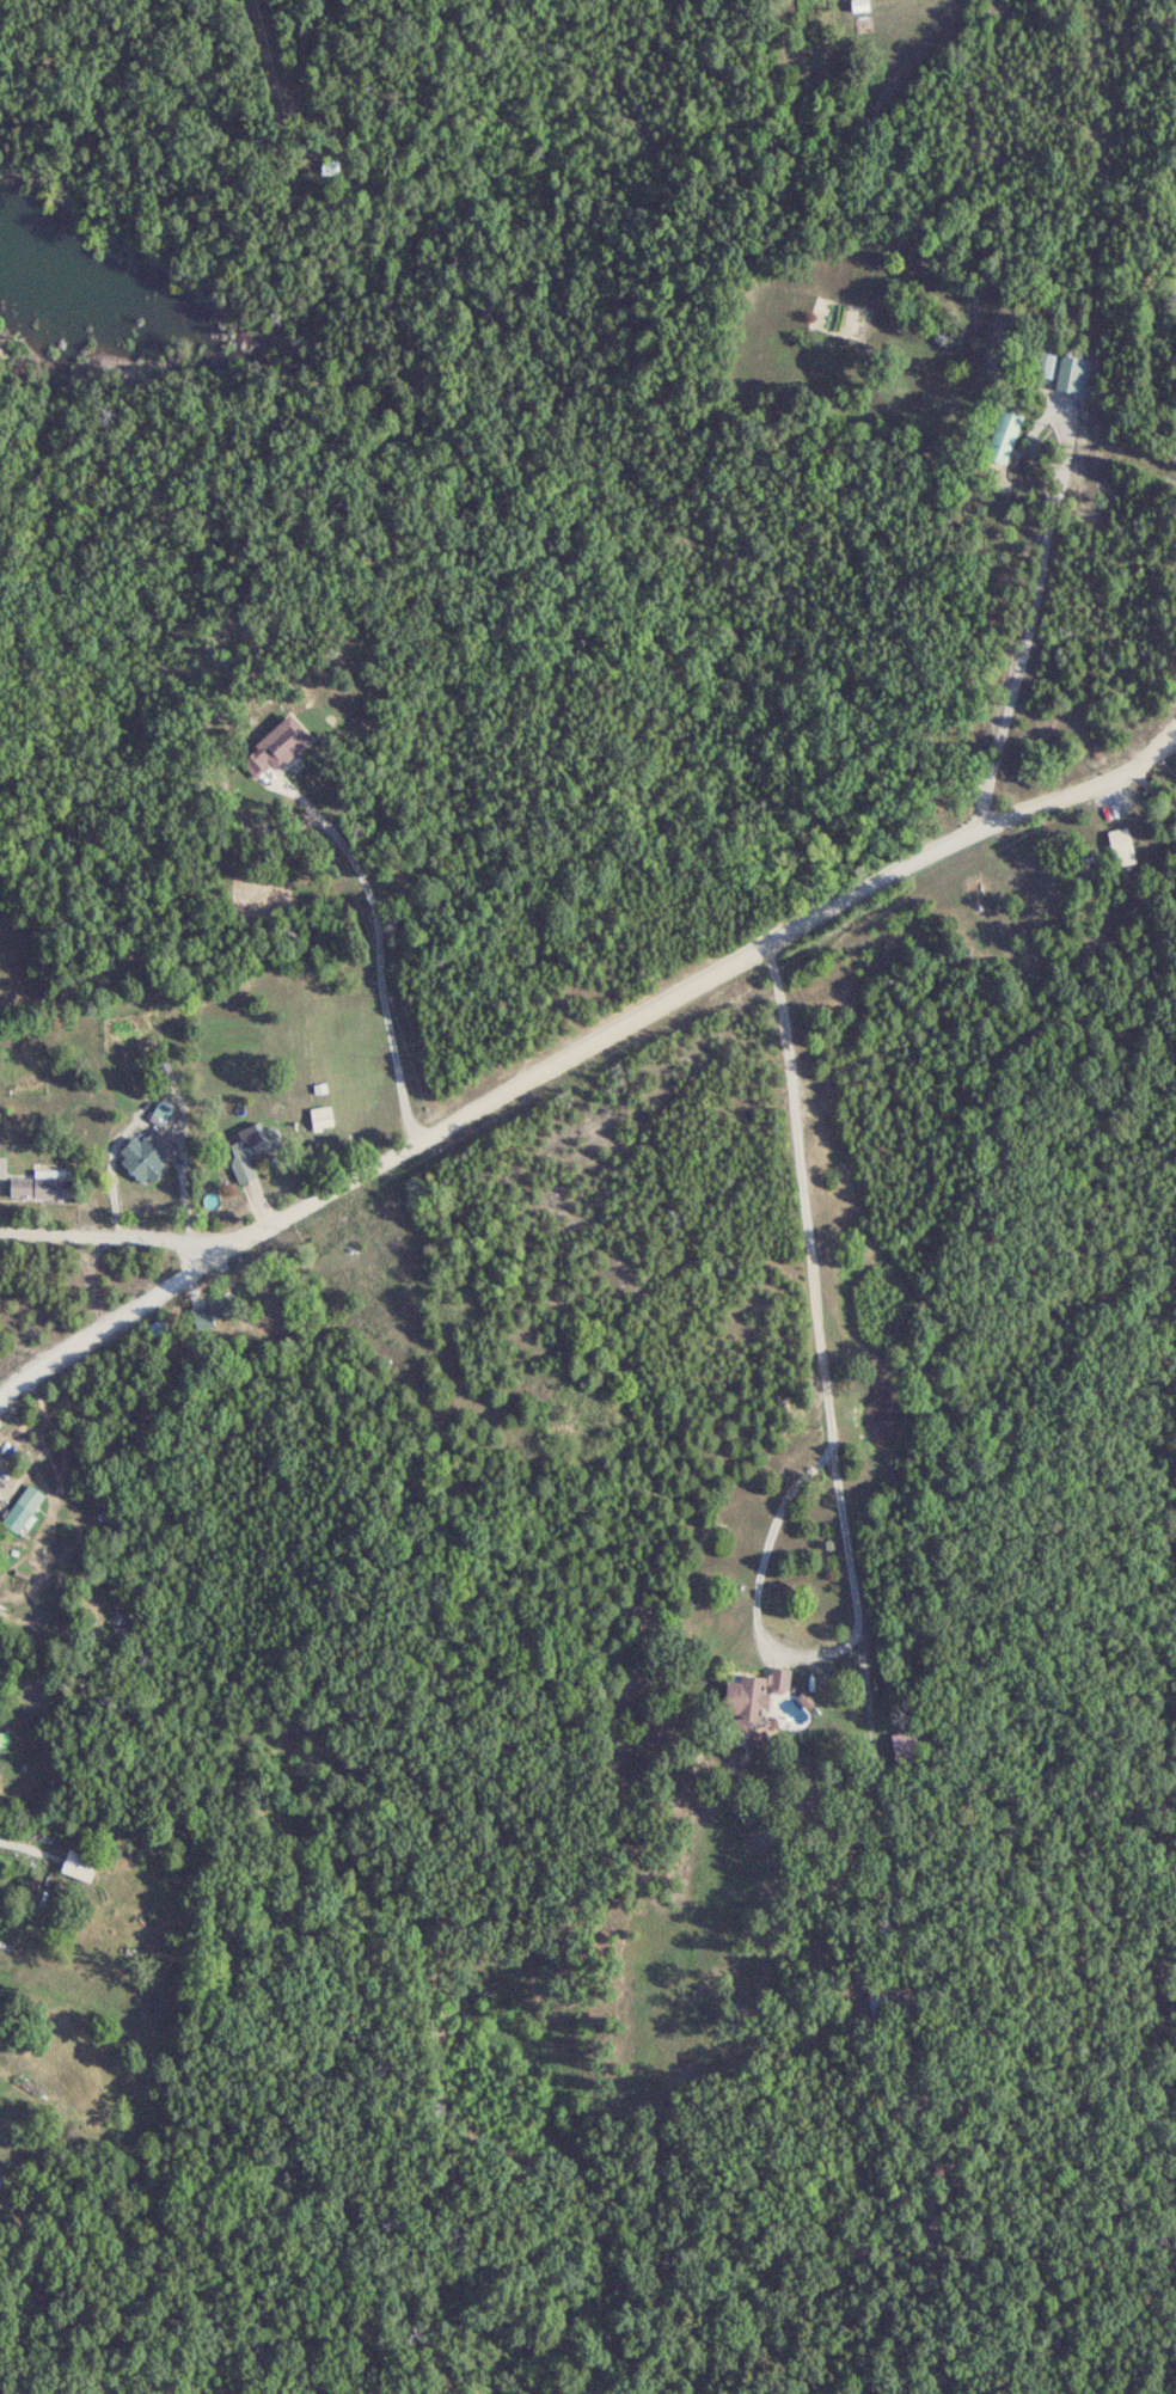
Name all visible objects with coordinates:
building: (1071, 373)
building: (1005, 434)
road: (1029, 620)
building: (277, 745)
building: (1122, 844)
road: (581, 1049)
building: (160, 1112)
building: (320, 1116)
building: (250, 1149)
building: (145, 1157)
building: (2, 1165)
building: (41, 1184)
road: (44, 1237)
road: (157, 1241)
road: (834, 1451)
building: (22, 1507)
building: (755, 1692)
building: (80, 1865)

